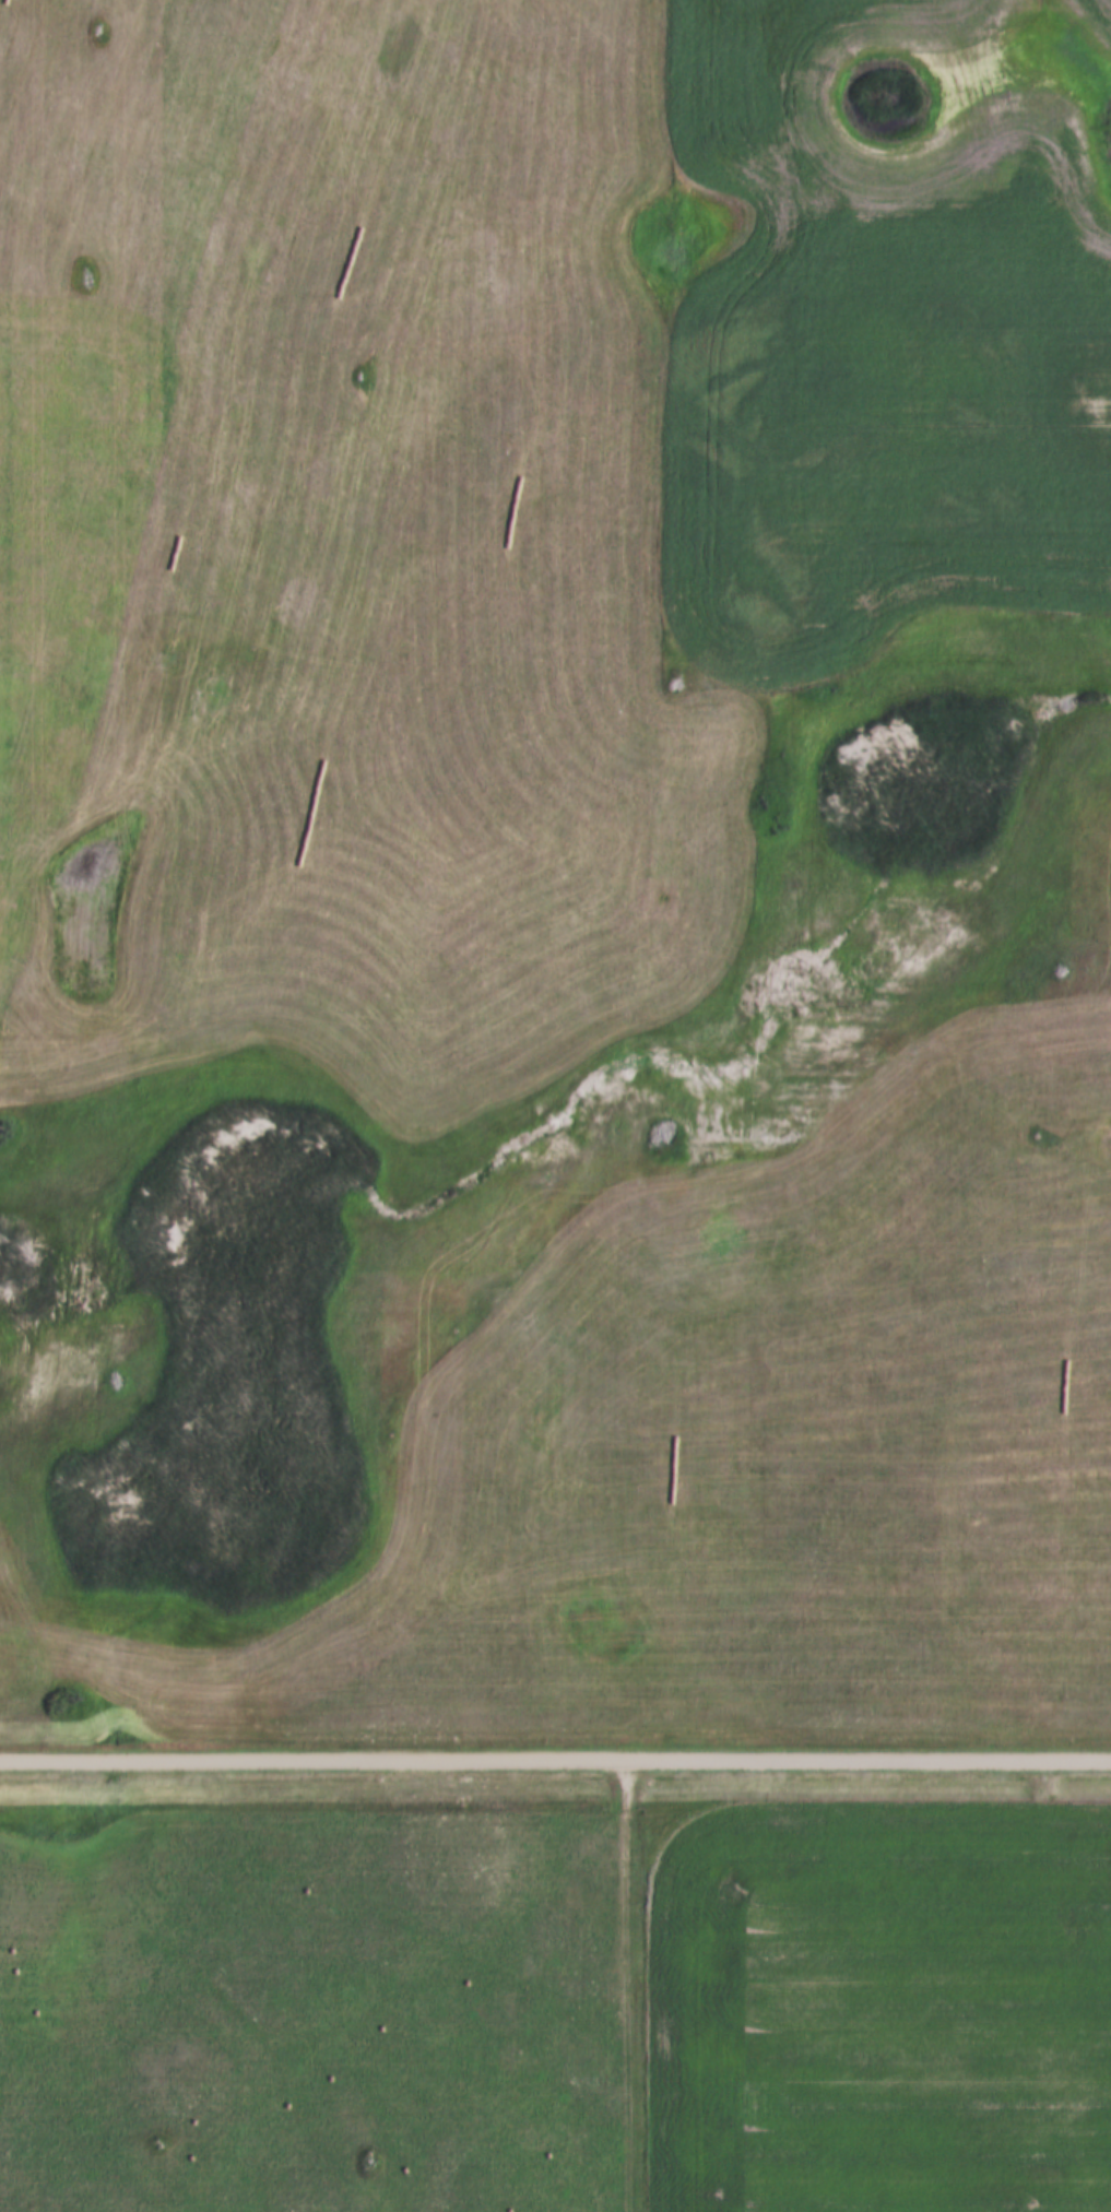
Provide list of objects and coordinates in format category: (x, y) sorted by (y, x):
road: (555, 1759)

